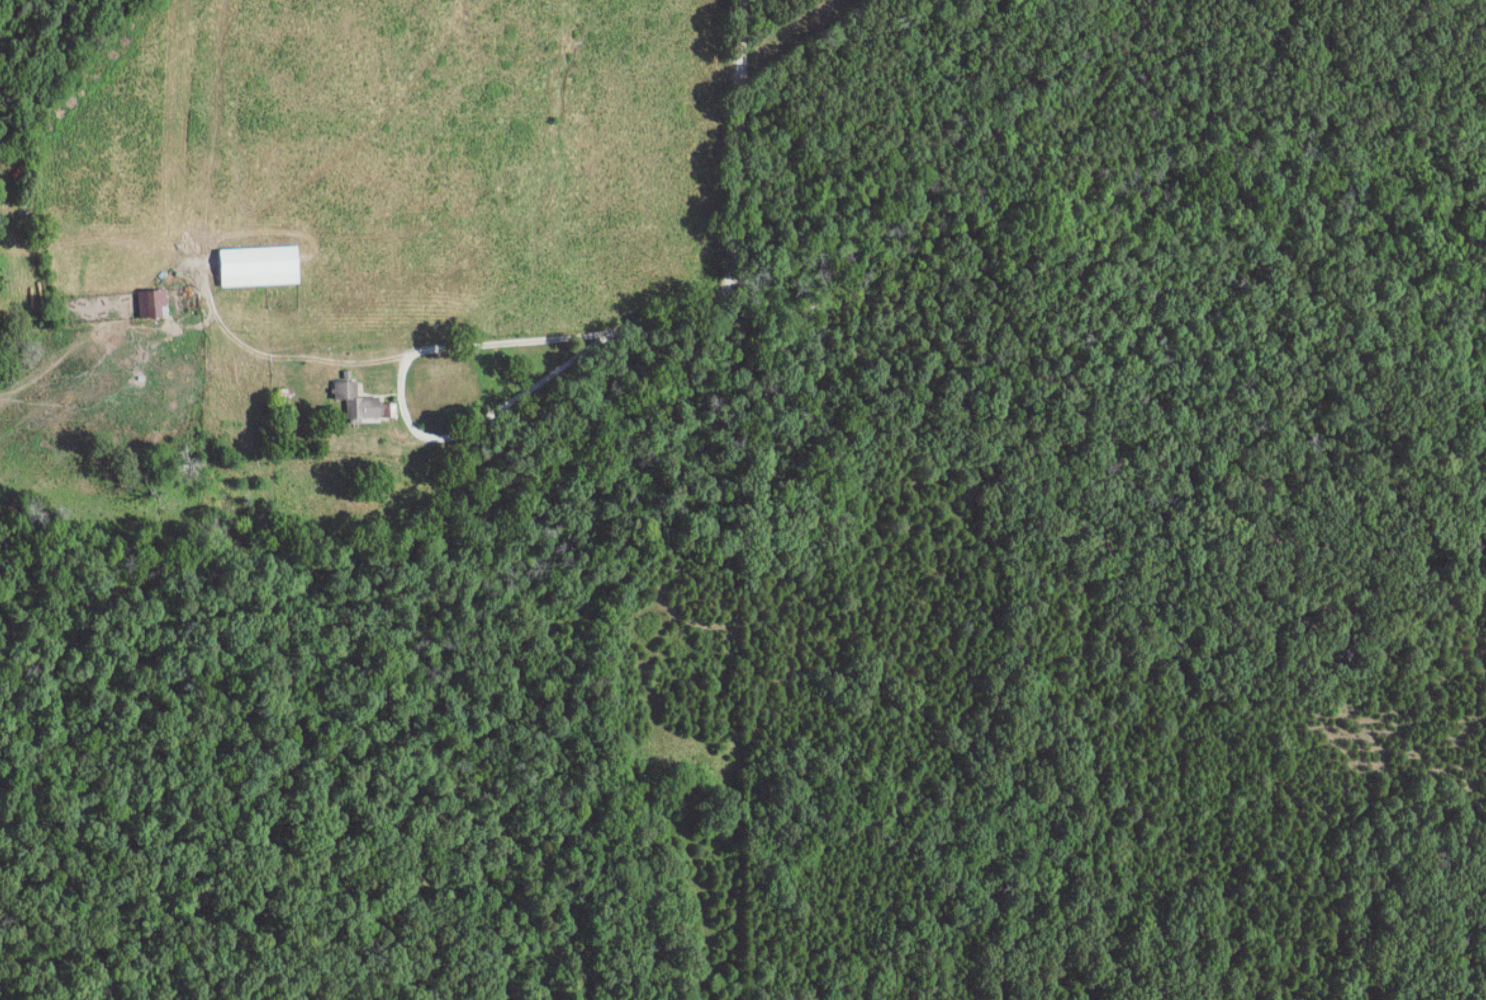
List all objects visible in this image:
road: (744, 204)
building: (259, 266)
building: (153, 303)
road: (294, 357)
building: (358, 402)
road: (404, 406)

